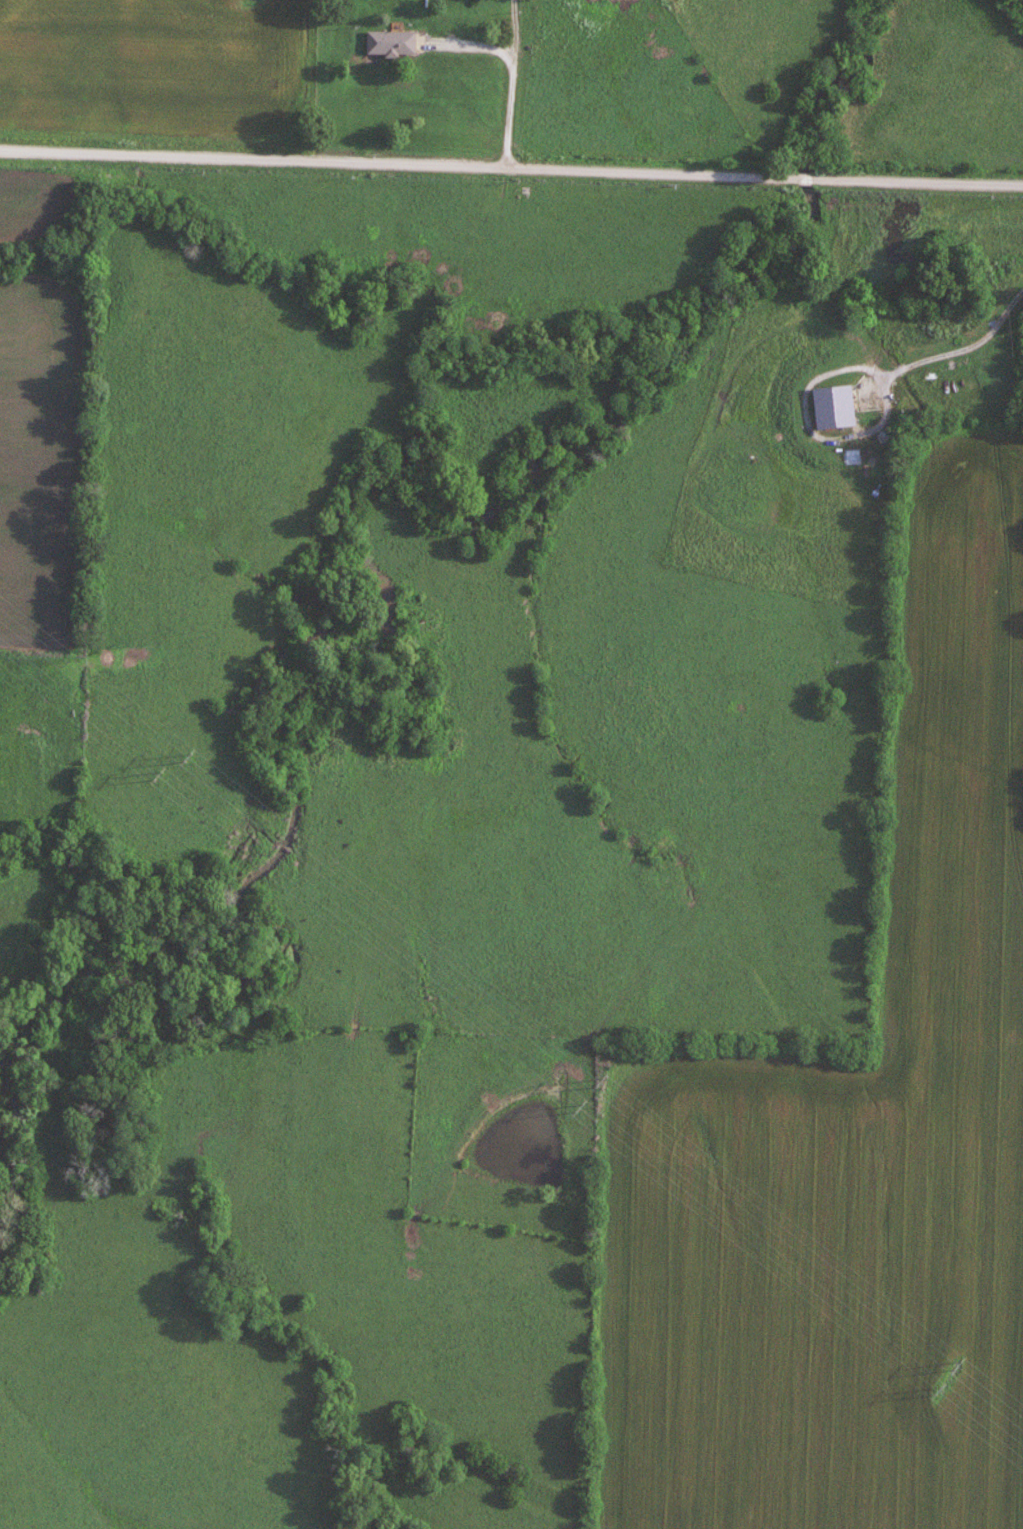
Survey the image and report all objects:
building: (391, 42)
road: (509, 71)
road: (511, 168)
road: (928, 353)
power tower: (187, 755)
power tower: (158, 775)
power tower: (598, 1080)
power tower: (578, 1107)
power tower: (955, 1362)
power tower: (936, 1390)

